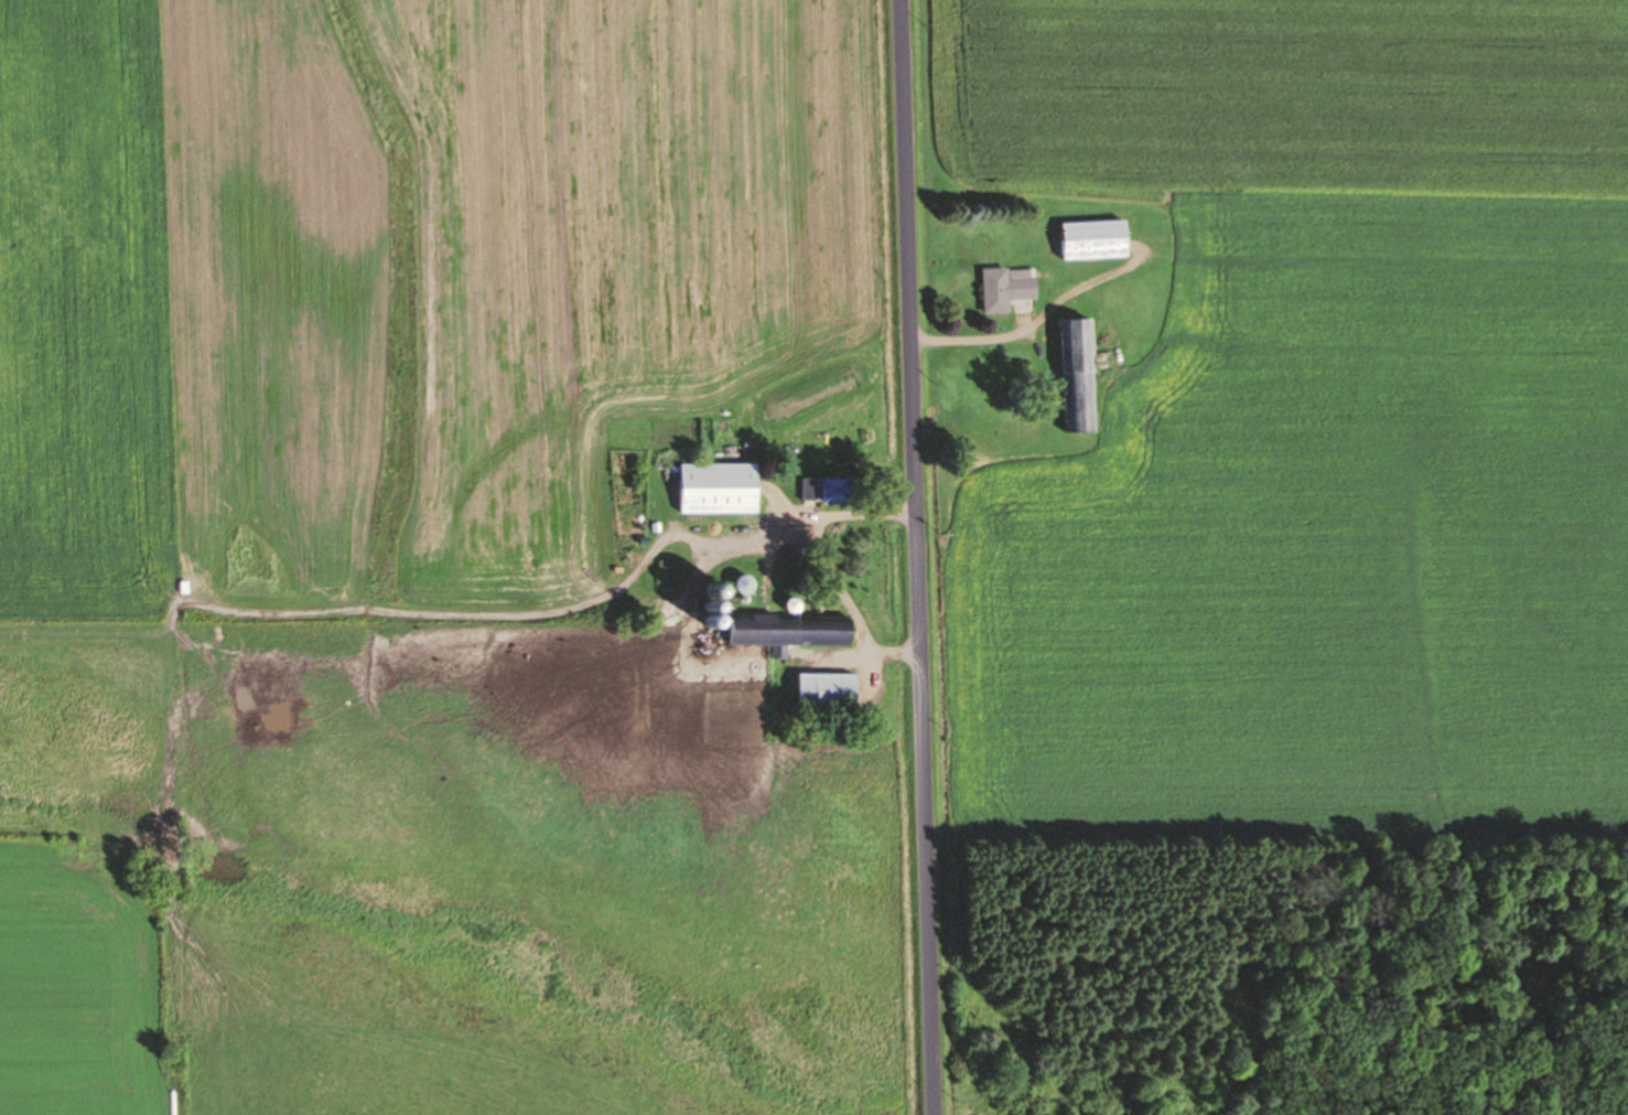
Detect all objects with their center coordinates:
building: (1095, 240)
building: (1007, 289)
building: (1078, 369)
building: (719, 489)
building: (827, 491)
road: (912, 557)
building: (789, 633)
building: (827, 691)

